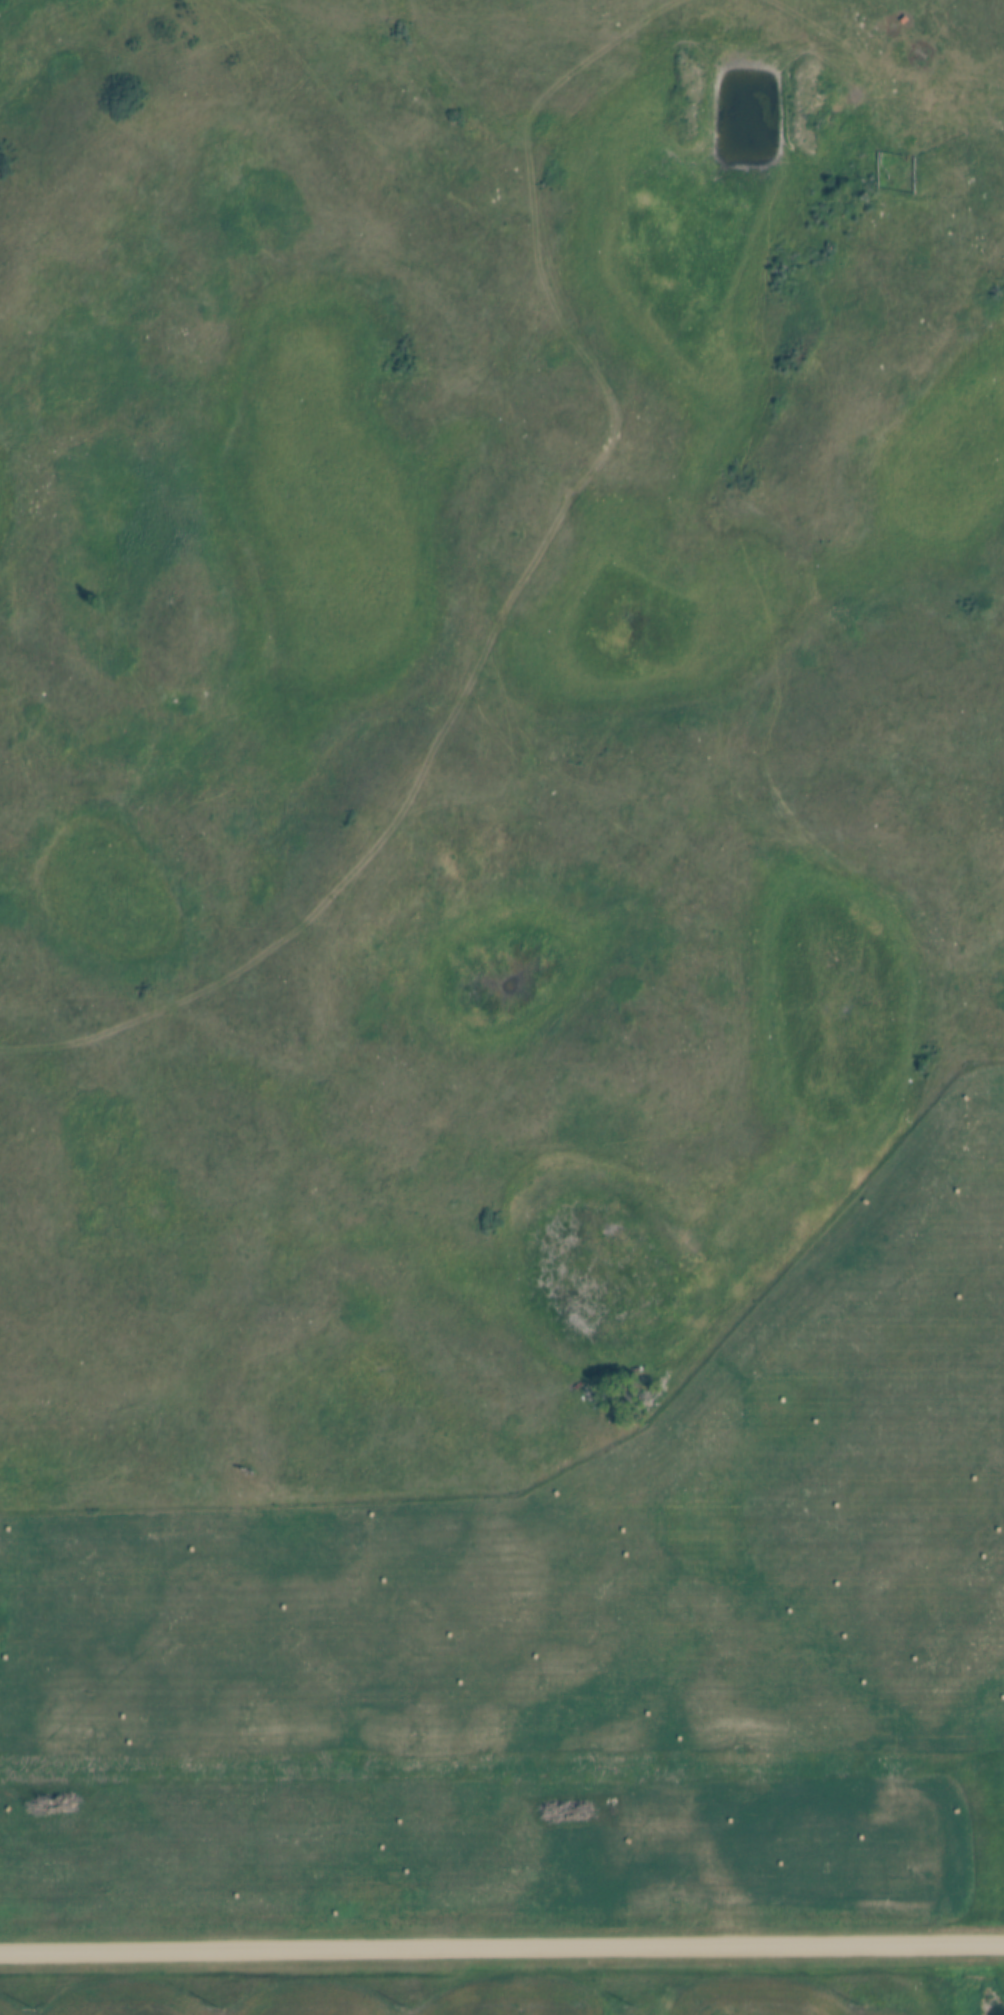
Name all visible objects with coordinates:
road: (501, 1947)

